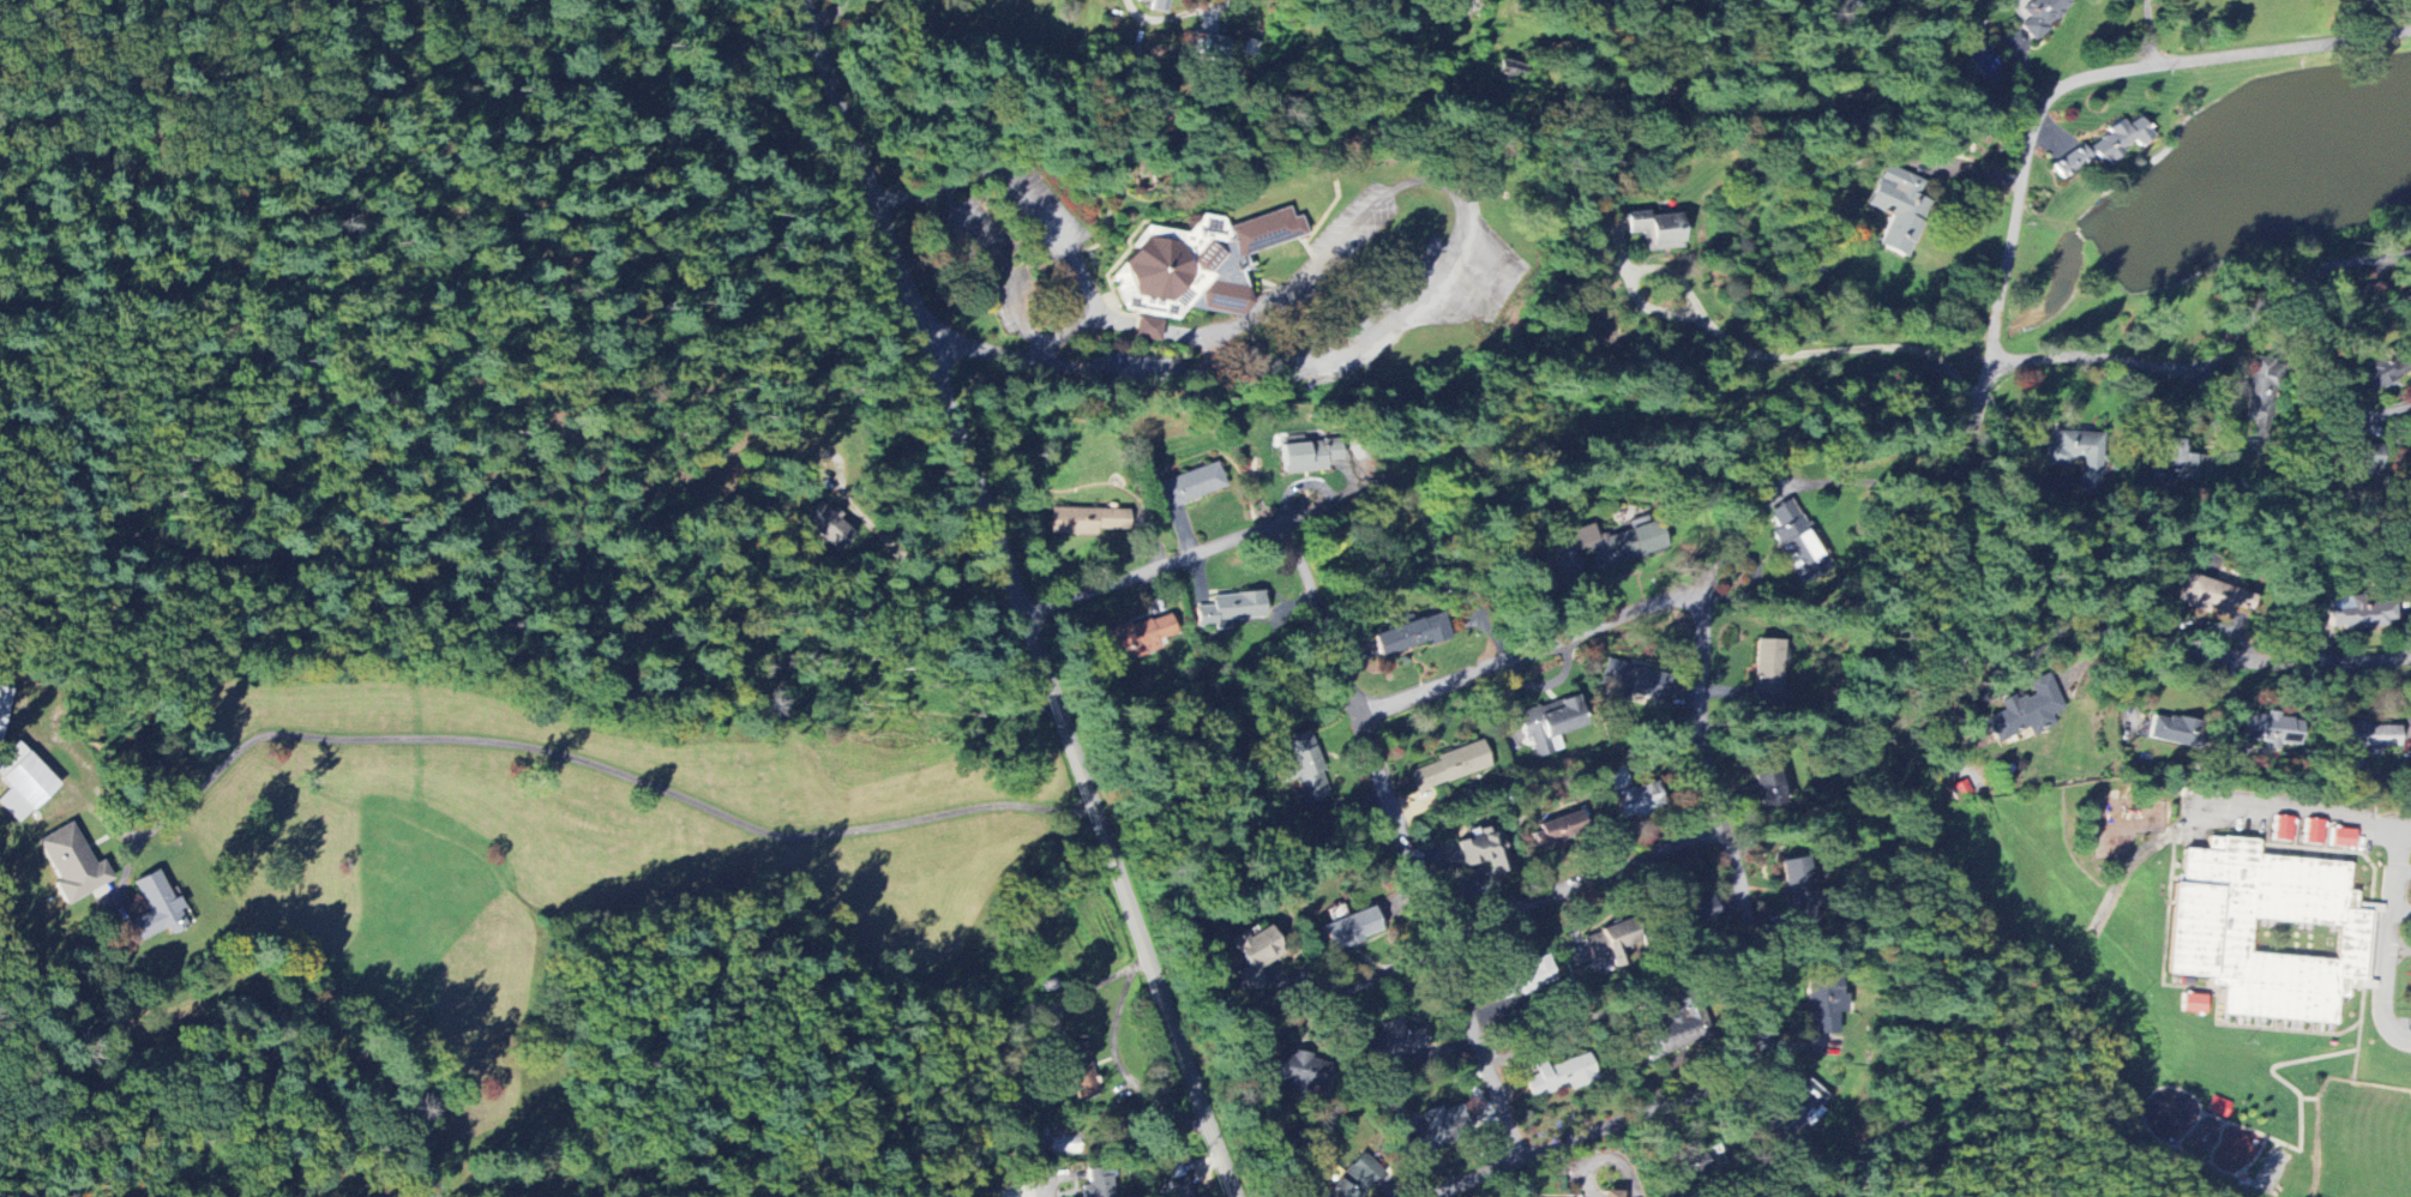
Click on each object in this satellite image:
road: (2389, 7)
building: (2042, 16)
road: (1186, 17)
road: (840, 19)
road: (1815, 26)
road: (1965, 29)
road: (2147, 35)
building: (1211, 47)
road: (2079, 83)
building: (2120, 143)
building: (2072, 163)
road: (1020, 187)
building: (1901, 210)
building: (1655, 231)
building: (1201, 265)
road: (1315, 265)
road: (1005, 271)
road: (1118, 321)
road: (1070, 331)
road: (1149, 331)
road: (1742, 349)
road: (1210, 357)
road: (2206, 363)
road: (1243, 380)
building: (2260, 395)
building: (1309, 455)
building: (2080, 458)
building: (2365, 461)
building: (2172, 463)
building: (1191, 487)
building: (1087, 522)
building: (826, 527)
building: (1619, 543)
building: (2407, 549)
building: (1799, 552)
road: (910, 560)
road: (1156, 571)
building: (2208, 596)
road: (1020, 598)
building: (1229, 609)
building: (2361, 614)
building: (1409, 636)
building: (1138, 637)
road: (2044, 637)
road: (1529, 652)
building: (1767, 674)
building: (1635, 681)
building: (4, 706)
building: (2026, 712)
building: (1551, 724)
building: (2173, 732)
building: (2364, 740)
road: (619, 769)
building: (1303, 769)
building: (1448, 769)
building: (22, 783)
building: (1768, 787)
building: (1960, 792)
building: (1630, 795)
building: (2283, 830)
building: (1555, 832)
building: (2313, 834)
road: (1407, 838)
building: (2341, 838)
building: (1483, 852)
building: (71, 865)
road: (2403, 871)
building: (1797, 883)
road: (2401, 910)
building: (152, 912)
building: (1697, 913)
road: (1749, 922)
road: (1495, 928)
building: (1351, 931)
road: (2389, 938)
building: (2206, 942)
building: (1612, 945)
road: (2399, 950)
building: (1255, 957)
building: (1533, 976)
road: (1082, 997)
building: (1823, 1004)
building: (2193, 1005)
building: (1671, 1036)
building: (1393, 1043)
road: (1117, 1061)
building: (1080, 1071)
building: (1559, 1077)
building: (2219, 1108)
building: (1797, 1109)
building: (1433, 1130)
road: (336, 1135)
road: (1615, 1159)
building: (1690, 1165)
building: (1354, 1179)
road: (468, 1181)
building: (1096, 1184)
building: (1179, 1187)
road: (1046, 1193)
building: (1612, 1193)

